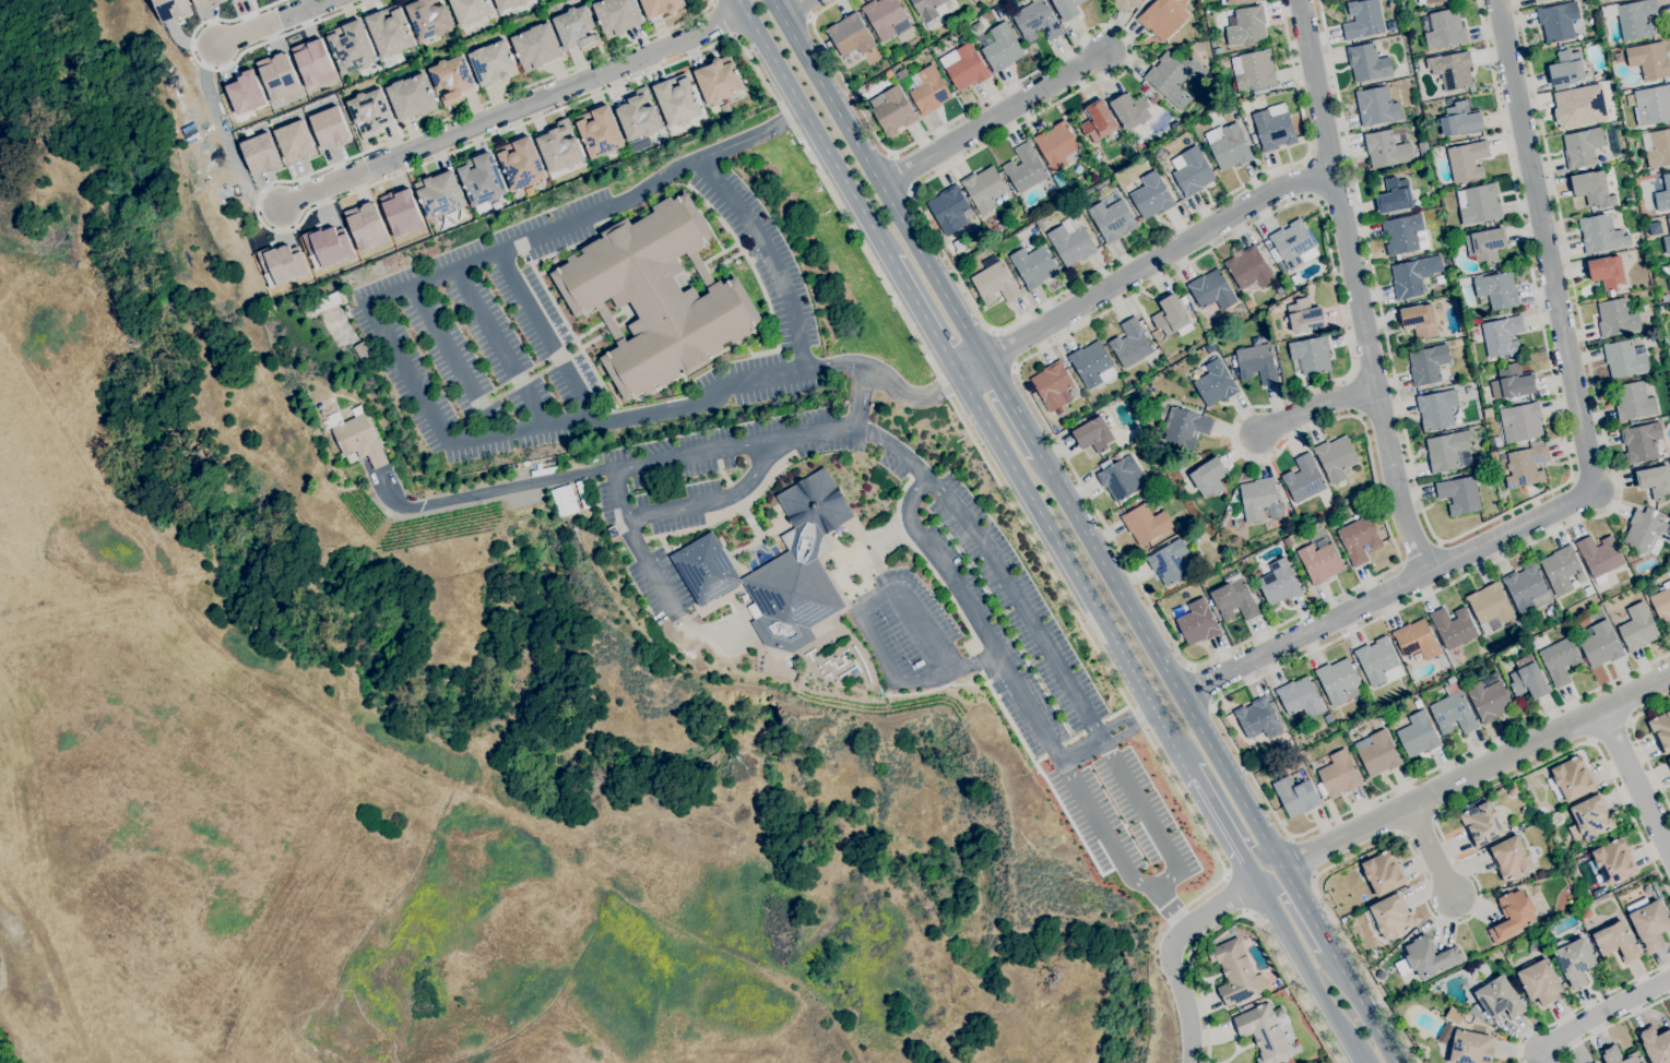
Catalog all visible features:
building: (233, 0)
building: (218, 1)
building: (1235, 1)
building: (1429, 1)
building: (1538, 1)
building: (201, 2)
building: (1146, 2)
building: (508, 3)
building: (1124, 3)
building: (1270, 3)
building: (661, 7)
road: (791, 7)
building: (1067, 8)
building: (171, 9)
building: (471, 10)
building: (929, 10)
building: (616, 15)
building: (429, 17)
building: (886, 17)
building: (1160, 17)
building: (1633, 17)
building: (1363, 19)
building: (1558, 20)
building: (1037, 21)
road: (271, 22)
building: (1246, 25)
building: (576, 28)
building: (1445, 28)
building: (390, 31)
building: (850, 35)
road: (732, 37)
building: (351, 46)
building: (535, 46)
building: (1002, 47)
building: (1619, 57)
building: (1649, 59)
building: (311, 62)
building: (493, 62)
building: (1367, 62)
road: (226, 64)
building: (964, 65)
building: (1566, 68)
building: (1253, 70)
building: (1453, 70)
building: (901, 73)
building: (888, 74)
building: (277, 76)
building: (1174, 77)
building: (451, 79)
building: (720, 81)
building: (1607, 87)
building: (858, 89)
building: (927, 89)
building: (1258, 89)
building: (245, 93)
building: (1151, 94)
building: (411, 96)
building: (677, 99)
building: (1449, 100)
building: (1575, 105)
building: (1653, 105)
road: (513, 106)
building: (1230, 106)
building: (1376, 106)
building: (1157, 107)
building: (892, 110)
building: (1130, 110)
building: (370, 111)
building: (1176, 112)
building: (638, 115)
building: (1234, 117)
building: (1245, 118)
road: (992, 120)
building: (1099, 120)
building: (1460, 120)
building: (1175, 126)
building: (328, 127)
building: (1274, 127)
road: (814, 129)
building: (599, 131)
road: (224, 135)
building: (294, 141)
building: (1058, 145)
building: (1229, 145)
building: (559, 146)
building: (1582, 147)
building: (1657, 147)
building: (1423, 148)
building: (1386, 150)
building: (259, 152)
building: (1467, 160)
building: (1148, 162)
building: (520, 163)
building: (1024, 168)
road: (941, 171)
building: (1192, 171)
road: (1311, 178)
building: (482, 180)
road: (877, 181)
building: (1630, 181)
building: (985, 189)
building: (1592, 189)
building: (440, 193)
building: (1663, 194)
building: (1151, 195)
building: (1395, 195)
building: (1630, 200)
building: (1479, 204)
building: (950, 210)
building: (400, 212)
building: (1085, 213)
building: (1112, 219)
building: (1668, 220)
building: (1489, 224)
building: (364, 226)
building: (1042, 230)
building: (1401, 234)
building: (1601, 234)
building: (1292, 242)
building: (1667, 243)
building: (959, 244)
building: (1070, 244)
building: (1488, 244)
building: (325, 246)
road: (769, 254)
road: (1156, 260)
building: (1446, 260)
building: (280, 264)
building: (1034, 265)
building: (1282, 268)
building: (1248, 270)
building: (1668, 270)
building: (1607, 271)
building: (1413, 275)
building: (1440, 279)
building: (1464, 280)
building: (995, 282)
road: (1354, 287)
building: (1281, 288)
building: (1497, 289)
building: (1211, 290)
building: (655, 297)
building: (1666, 297)
building: (1183, 299)
building: (325, 302)
building: (1305, 315)
building: (1172, 316)
road: (925, 318)
building: (1615, 318)
building: (1420, 320)
building: (336, 326)
road: (544, 334)
building: (1502, 335)
building: (1130, 343)
road: (499, 347)
building: (1211, 347)
road: (1003, 348)
building: (362, 350)
building: (1312, 354)
building: (1625, 358)
road: (453, 360)
building: (1256, 362)
building: (1092, 363)
building: (1429, 365)
road: (972, 369)
building: (1515, 381)
building: (1215, 383)
building: (1053, 386)
building: (1469, 387)
road: (858, 396)
road: (423, 399)
building: (1634, 401)
road: (1314, 406)
road: (1012, 409)
building: (1436, 409)
building: (1488, 413)
building: (1456, 415)
building: (1521, 422)
road: (1319, 423)
building: (1185, 427)
building: (1092, 433)
building: (357, 437)
building: (1641, 441)
building: (1446, 450)
building: (1336, 457)
road: (671, 459)
building: (1527, 465)
road: (1591, 469)
building: (1121, 476)
building: (1154, 476)
building: (1209, 477)
building: (1303, 478)
building: (1655, 480)
building: (1185, 487)
building: (1530, 489)
road: (488, 492)
building: (1459, 494)
building: (1257, 498)
building: (564, 499)
building: (1284, 500)
building: (1347, 500)
road: (713, 501)
building: (1291, 501)
building: (1145, 522)
road: (1474, 528)
building: (1647, 531)
road: (975, 533)
building: (1293, 538)
building: (1359, 539)
road: (1419, 552)
building: (1599, 557)
building: (1170, 561)
building: (1320, 562)
road: (647, 564)
building: (797, 568)
building: (704, 569)
building: (1561, 569)
road: (1077, 576)
building: (1579, 576)
building: (1279, 583)
building: (1526, 585)
building: (1253, 590)
building: (1588, 590)
building: (1234, 600)
building: (1662, 604)
building: (1490, 607)
road: (1387, 613)
building: (1197, 622)
building: (1454, 626)
building: (1637, 626)
road: (865, 631)
building: (1417, 640)
building: (1601, 645)
building: (1559, 658)
building: (1378, 661)
building: (1528, 679)
building: (1450, 680)
building: (1338, 681)
road: (1203, 685)
road: (1015, 689)
building: (1423, 694)
building: (1302, 698)
building: (1489, 700)
building: (1336, 714)
building: (1453, 714)
building: (1257, 718)
building: (1661, 730)
road: (1611, 731)
road: (1104, 734)
building: (1418, 734)
road: (1638, 744)
building: (1377, 753)
road: (1218, 760)
building: (1668, 762)
road: (1476, 773)
building: (1338, 774)
building: (1571, 779)
road: (1635, 783)
building: (1511, 792)
building: (1295, 796)
road: (1222, 802)
building: (1592, 816)
building: (1481, 824)
road: (1222, 829)
building: (1575, 832)
road: (1154, 833)
road: (1429, 848)
road: (1301, 856)
building: (1511, 857)
building: (1613, 860)
building: (1592, 864)
building: (1383, 873)
building: (1647, 888)
building: (1657, 889)
building: (1602, 891)
road: (1235, 893)
road: (1477, 906)
road: (1208, 911)
road: (1244, 911)
building: (1586, 912)
building: (1513, 916)
building: (1390, 917)
building: (1648, 921)
road: (1301, 927)
building: (1616, 941)
building: (1428, 957)
building: (1574, 962)
building: (1235, 971)
road: (1304, 972)
building: (1381, 975)
building: (1540, 981)
building: (1497, 996)
road: (1184, 1004)
road: (1584, 1006)
road: (1603, 1013)
building: (1452, 1015)
road: (1612, 1027)
building: (1264, 1034)
building: (1656, 1043)
building: (1470, 1047)
building: (1619, 1055)
building: (1595, 1062)

